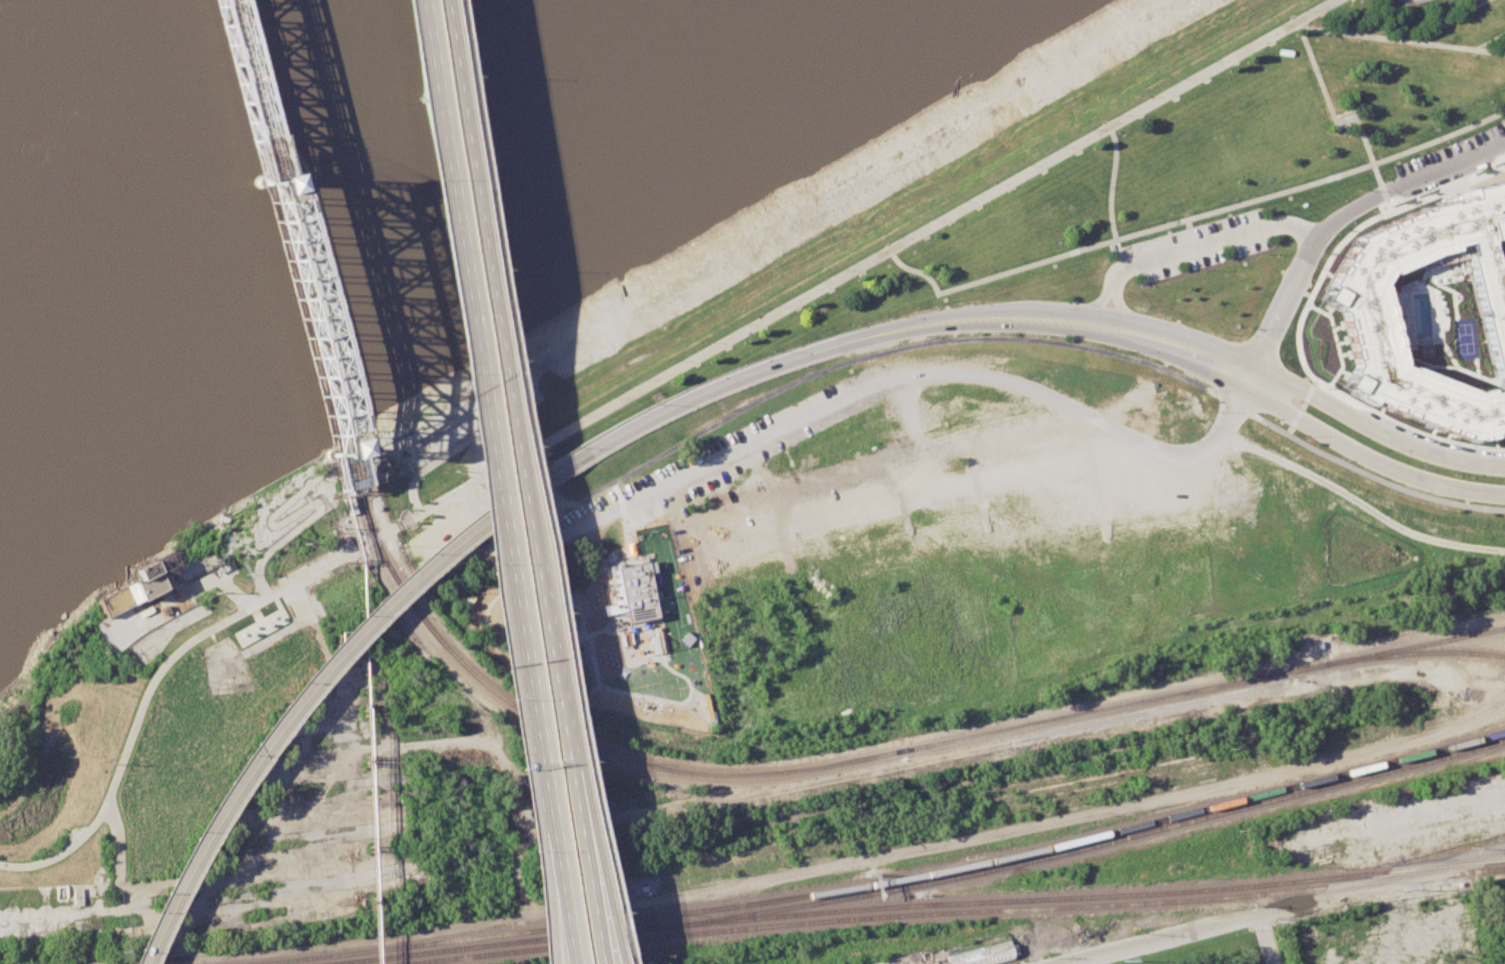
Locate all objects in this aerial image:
street lamp: (1302, 10)
building: (1392, 10)
road: (1448, 21)
street lamp: (1277, 24)
road: (1368, 24)
road: (1488, 39)
street lamp: (1354, 40)
road: (1400, 40)
street lamp: (1245, 42)
street lamp: (1414, 48)
street lamp: (1475, 55)
street lamp: (1213, 60)
street lamp: (1308, 70)
street lamp: (459, 73)
street lamp: (1181, 78)
railway: (253, 96)
street lamp: (1148, 96)
street lamp: (1116, 114)
road: (1330, 117)
street lamp: (1329, 125)
street lamp: (1091, 128)
street lamp: (1476, 129)
street lamp: (1447, 141)
river: (264, 142)
street lamp: (1058, 147)
street lamp: (1420, 152)
park: (1168, 160)
street lamp: (1026, 165)
street lamp: (1366, 172)
street lamp: (417, 176)
building: (272, 183)
street lamp: (993, 183)
street lamp: (1366, 189)
street lamp: (1309, 190)
road: (1382, 192)
road: (1108, 197)
street lamp: (1406, 200)
street lamp: (961, 201)
road: (1387, 205)
street lamp: (1252, 206)
road: (1339, 216)
road: (1189, 218)
street lamp: (929, 219)
street lamp: (1195, 222)
building: (1499, 229)
road: (1188, 234)
street lamp: (897, 237)
street lamp: (1139, 238)
parking lot: (1198, 247)
road: (1187, 249)
street lamp: (871, 251)
railway: (1034, 254)
street lamp: (1262, 254)
street lamp: (1081, 255)
road: (876, 256)
street lamp: (489, 266)
street lamp: (1316, 267)
street lamp: (839, 269)
street lamp: (1205, 270)
street lamp: (1025, 272)
street lamp: (1147, 285)
street lamp: (807, 287)
street lamp: (968, 290)
street lamp: (1046, 296)
street lamp: (960, 303)
street lamp: (774, 305)
street lamp: (912, 306)
building: (1360, 310)
railway: (311, 315)
street lamp: (883, 316)
road: (1299, 319)
street lamp: (742, 324)
road: (908, 327)
street lamp: (1252, 328)
street lamp: (1226, 333)
railway: (843, 336)
street lamp: (1044, 336)
road: (1333, 340)
street lamp: (1280, 341)
street lamp: (709, 342)
road: (892, 349)
street lamp: (770, 350)
street lamp: (1129, 352)
street lamp: (678, 359)
street lamp: (450, 362)
street lamp: (645, 378)
street lamp: (1330, 378)
road: (1313, 382)
road: (878, 387)
street lamp: (1199, 390)
road: (1307, 392)
street lamp: (613, 396)
street lamp: (651, 404)
road: (1301, 405)
street lamp: (1213, 411)
street lamp: (580, 414)
road: (1294, 417)
street lamp: (1240, 426)
road: (1373, 427)
street lamp: (555, 428)
road: (512, 429)
road: (1288, 429)
road: (479, 434)
street lamp: (1301, 436)
street lamp: (521, 445)
building: (340, 448)
street lamp: (572, 448)
street lamp: (1381, 448)
road: (1364, 455)
road: (349, 460)
railway: (349, 463)
street lamp: (1454, 473)
road: (533, 482)
street lamp: (458, 483)
road: (1390, 485)
street lamp: (425, 501)
road: (1182, 504)
building: (1283, 511)
road: (406, 520)
road: (372, 537)
street lamp: (478, 562)
road: (309, 575)
building: (981, 583)
building: (131, 589)
building: (630, 593)
street lamp: (553, 612)
park: (239, 644)
railway: (1278, 644)
railway: (1418, 645)
railway: (1417, 652)
railway: (316, 667)
road: (320, 669)
railway: (326, 673)
street lamp: (578, 704)
road: (892, 715)
road: (131, 739)
road: (1008, 743)
street lamp: (577, 762)
railway: (782, 772)
railway: (1084, 848)
street lamp: (518, 851)
railway: (1410, 869)
road: (822, 870)
railway: (1402, 879)
railway: (883, 882)
road: (129, 896)
railway: (915, 896)
railway: (986, 901)
road: (1284, 907)
road: (590, 911)
road: (596, 911)
railway: (971, 911)
road: (546, 916)
road: (555, 916)
road: (1268, 938)
railway: (493, 943)
railway: (525, 950)
building: (983, 954)

